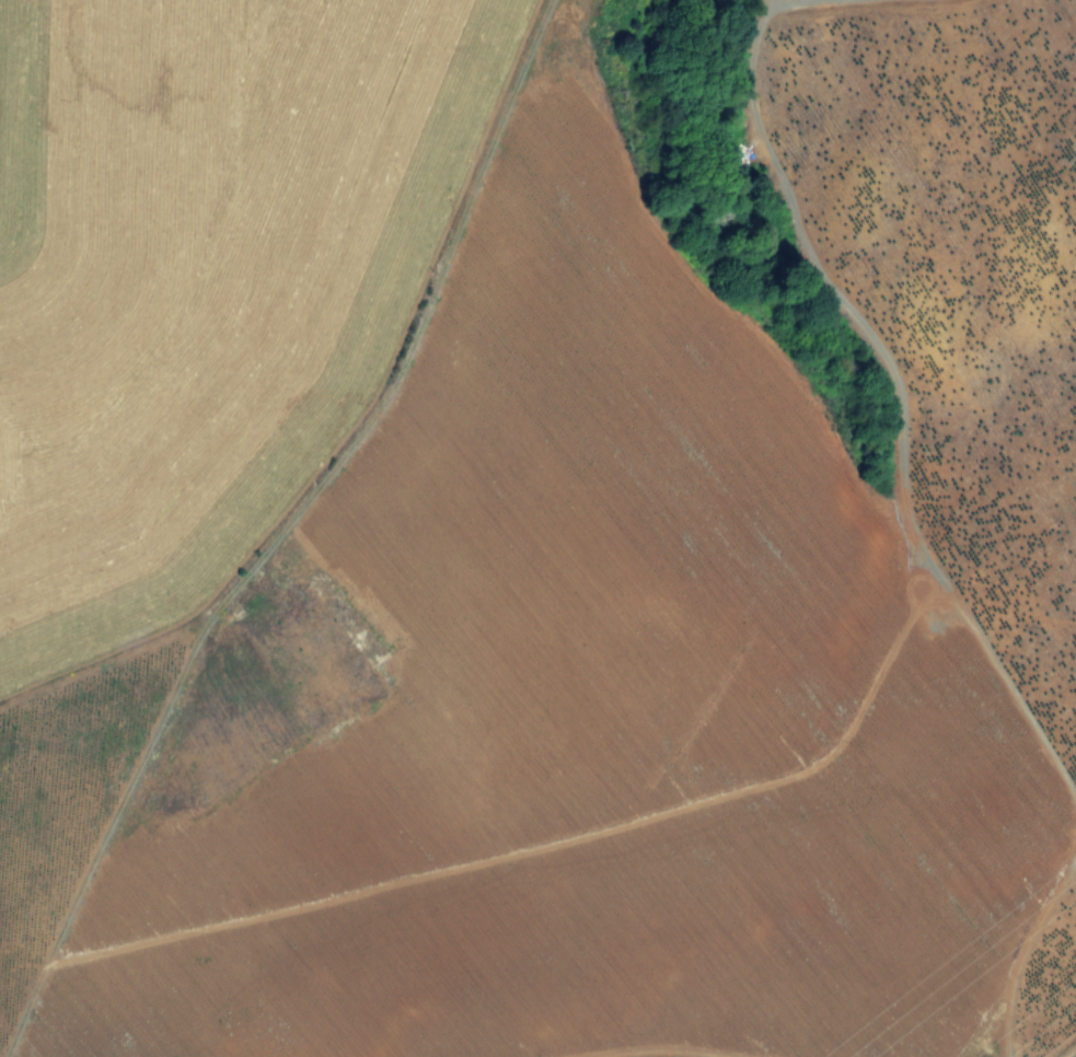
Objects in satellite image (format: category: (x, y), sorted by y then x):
road: (817, 8)
crop: (537, 528)
road: (1071, 1053)

